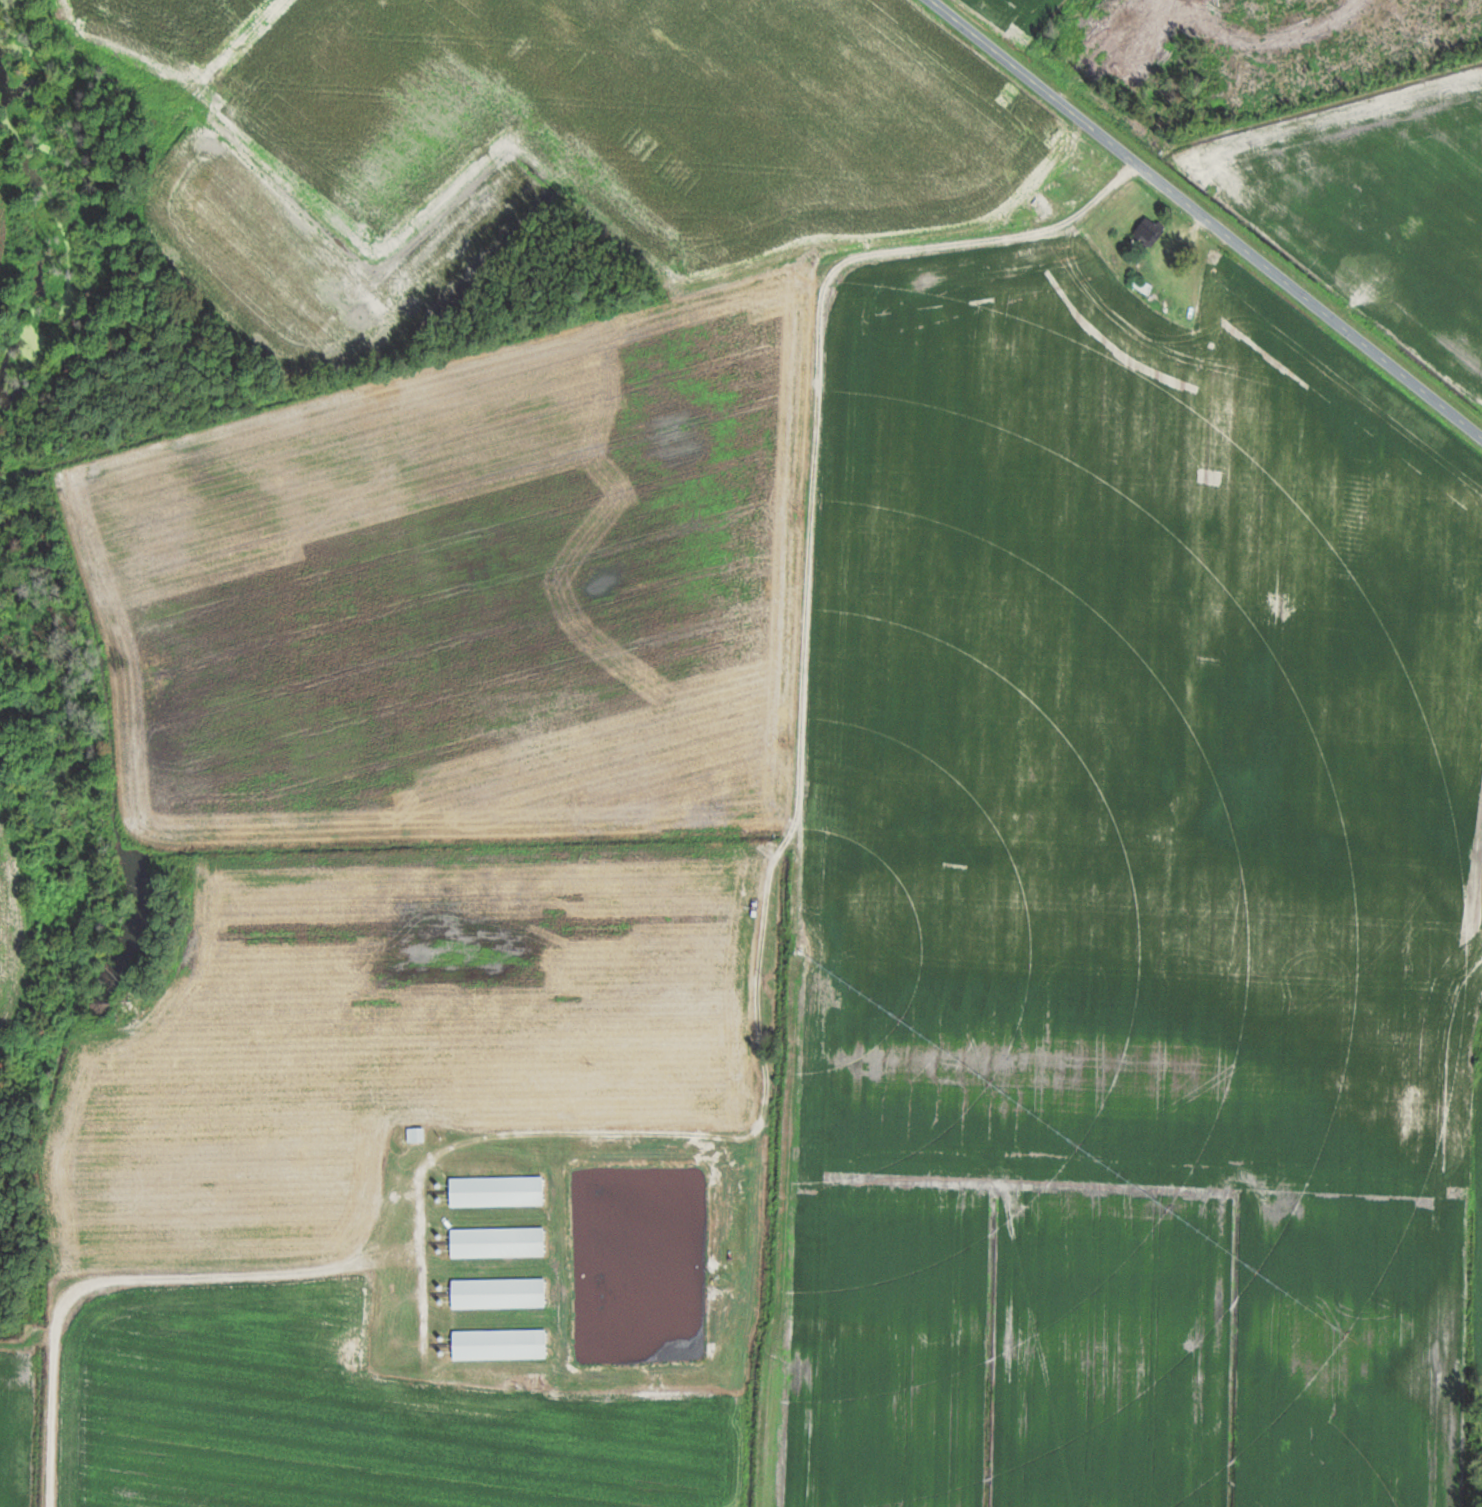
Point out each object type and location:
crop: (1017, 16)
crop: (177, 24)
crop: (812, 106)
crop: (412, 179)
crop: (2, 209)
road: (1208, 217)
building: (1149, 231)
building: (1150, 281)
building: (1146, 287)
crop: (990, 544)
crop: (469, 590)
crop: (1337, 610)
crop: (12, 931)
crop: (1136, 958)
crop: (395, 1036)
building: (416, 1135)
crop: (1097, 1137)
building: (497, 1191)
building: (498, 1241)
crop: (1153, 1281)
building: (499, 1293)
building: (501, 1344)
crop: (347, 1416)
crop: (13, 1422)

